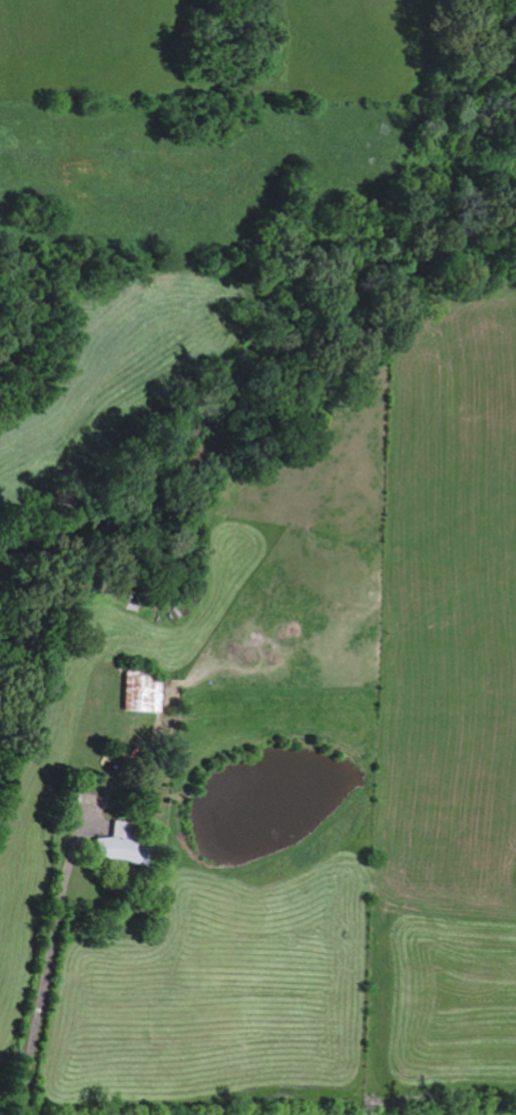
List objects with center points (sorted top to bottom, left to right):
building: (138, 693)
building: (109, 850)
road: (115, 900)

